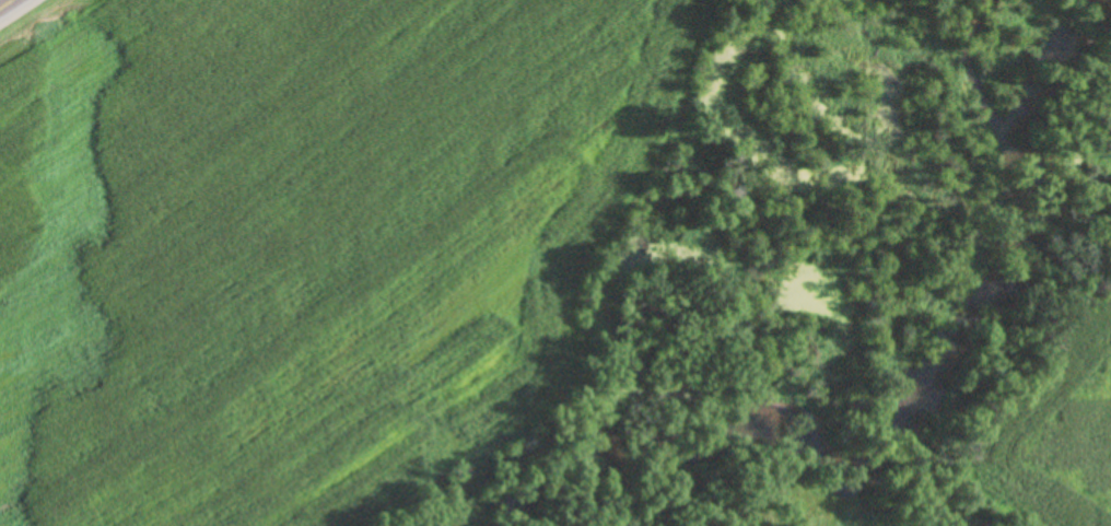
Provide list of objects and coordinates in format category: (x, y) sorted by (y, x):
road: (11, 7)
river: (1073, 90)
river: (873, 433)

